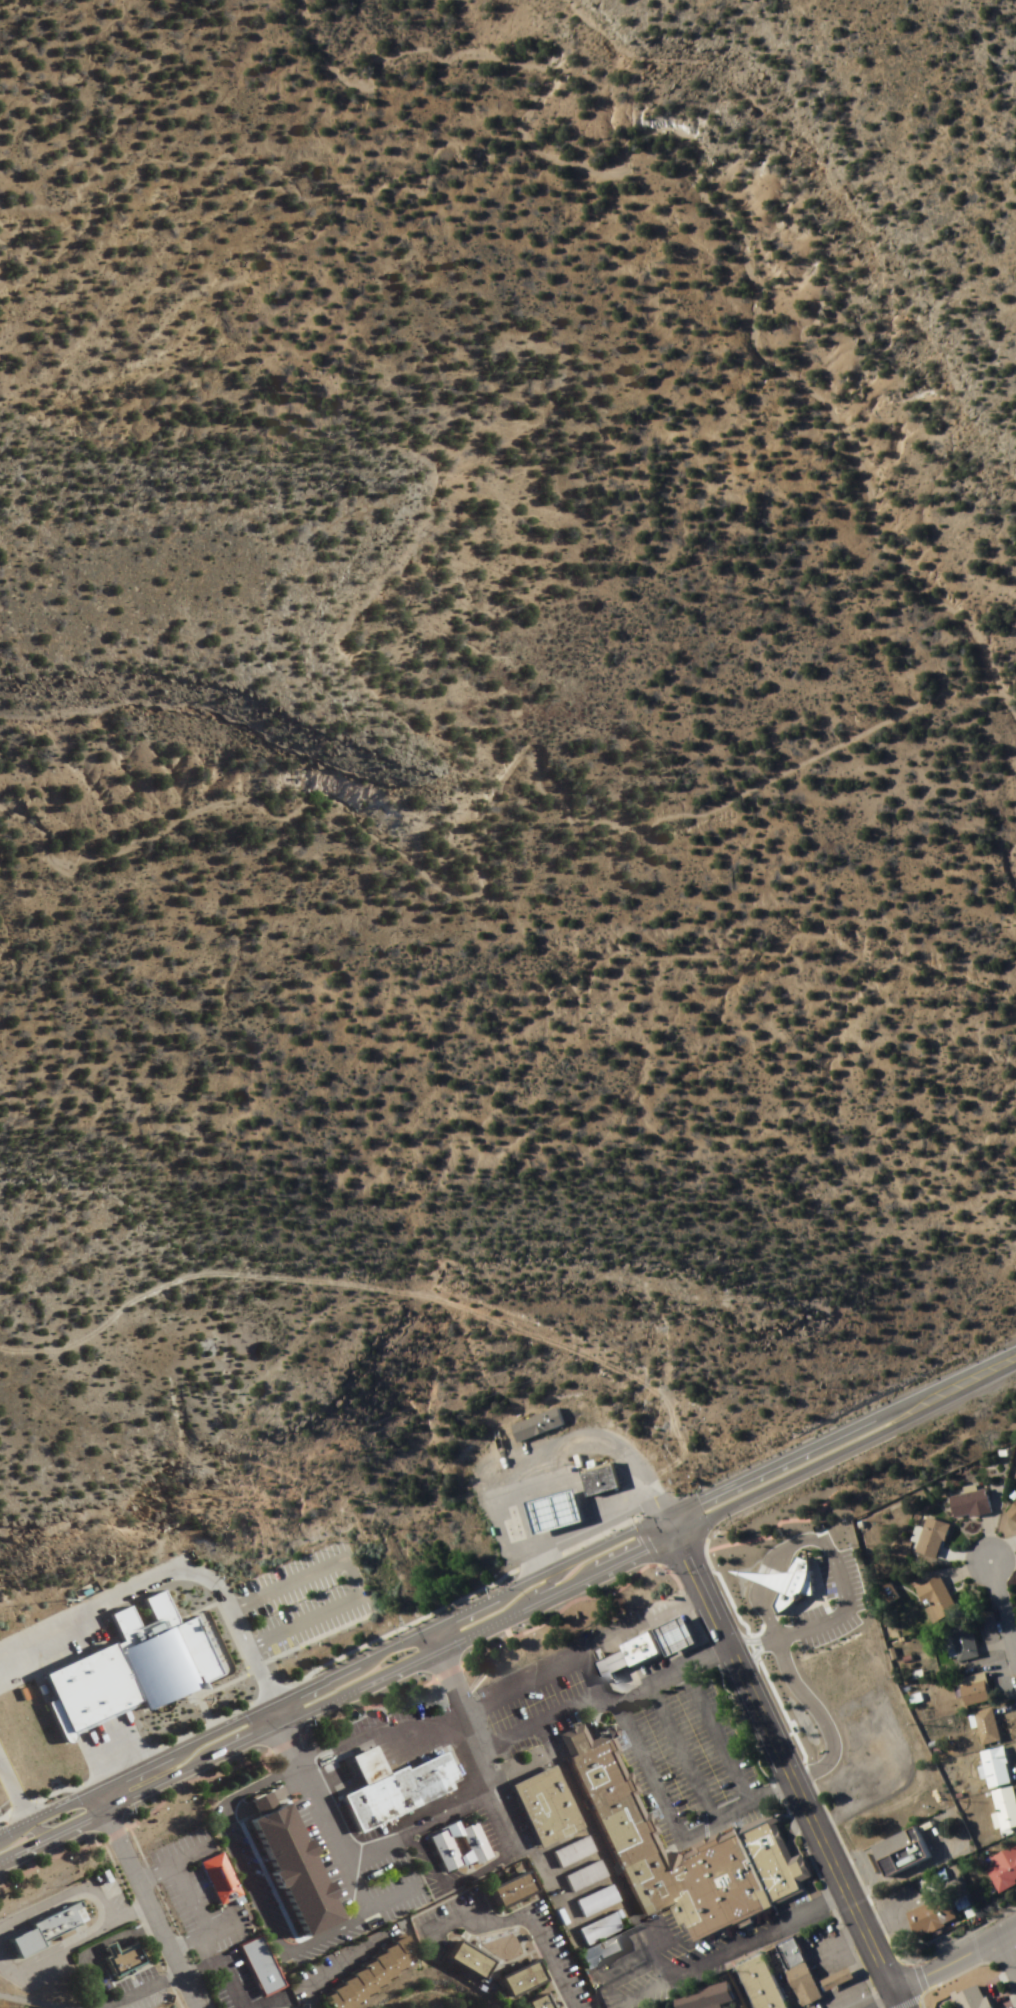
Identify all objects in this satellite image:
road: (385, 1293)
road: (965, 1380)
road: (859, 1420)
building: (536, 1425)
road: (583, 1447)
road: (735, 1476)
building: (595, 1477)
building: (969, 1505)
building: (547, 1509)
gas station: (547, 1509)
traffic signals: (664, 1510)
building: (1012, 1513)
building: (930, 1539)
road: (553, 1551)
parking lot: (290, 1563)
road: (352, 1569)
park: (651, 1577)
building: (775, 1577)
road: (161, 1581)
street lamp: (324, 1583)
road: (539, 1583)
parking lot: (296, 1587)
street lamp: (293, 1596)
building: (934, 1600)
parking lot: (302, 1601)
road: (508, 1607)
street lamp: (265, 1609)
road: (710, 1616)
road: (1003, 1616)
road: (835, 1621)
street lamp: (343, 1624)
parking lot: (314, 1625)
building: (672, 1635)
street lamp: (311, 1639)
building: (960, 1644)
road: (378, 1649)
building: (633, 1649)
street lamp: (281, 1651)
building: (134, 1665)
building: (604, 1666)
road: (537, 1669)
building: (972, 1690)
park: (223, 1692)
road: (797, 1697)
flagpole: (190, 1698)
parking lot: (528, 1698)
road: (325, 1714)
building: (986, 1727)
building: (403, 1731)
road: (675, 1750)
parking lot: (680, 1757)
building: (993, 1769)
road: (312, 1782)
building: (382, 1787)
road: (10, 1799)
road: (451, 1801)
road: (56, 1803)
building: (540, 1807)
building: (1005, 1808)
road: (711, 1816)
road: (65, 1824)
road: (10, 1825)
road: (25, 1830)
building: (437, 1845)
road: (15, 1846)
building: (568, 1852)
building: (683, 1852)
building: (899, 1853)
road: (830, 1854)
building: (280, 1864)
road: (469, 1869)
building: (1002, 1869)
building: (580, 1877)
building: (209, 1879)
building: (506, 1890)
parking lot: (113, 1896)
road: (140, 1897)
building: (591, 1901)
building: (962, 1905)
building: (930, 1918)
building: (36, 1928)
building: (593, 1929)
road: (748, 1935)
road: (539, 1937)
building: (597, 1952)
road: (1009, 1952)
building: (462, 1960)
road: (956, 1960)
building: (118, 1961)
building: (250, 1966)
building: (797, 1972)
parking lot: (43, 1975)
building: (362, 1977)
building: (514, 1978)
building: (836, 1980)
building: (758, 1983)
building: (704, 1998)
building: (973, 1998)
road: (900, 1999)
road: (28, 2001)
building: (530, 2002)

